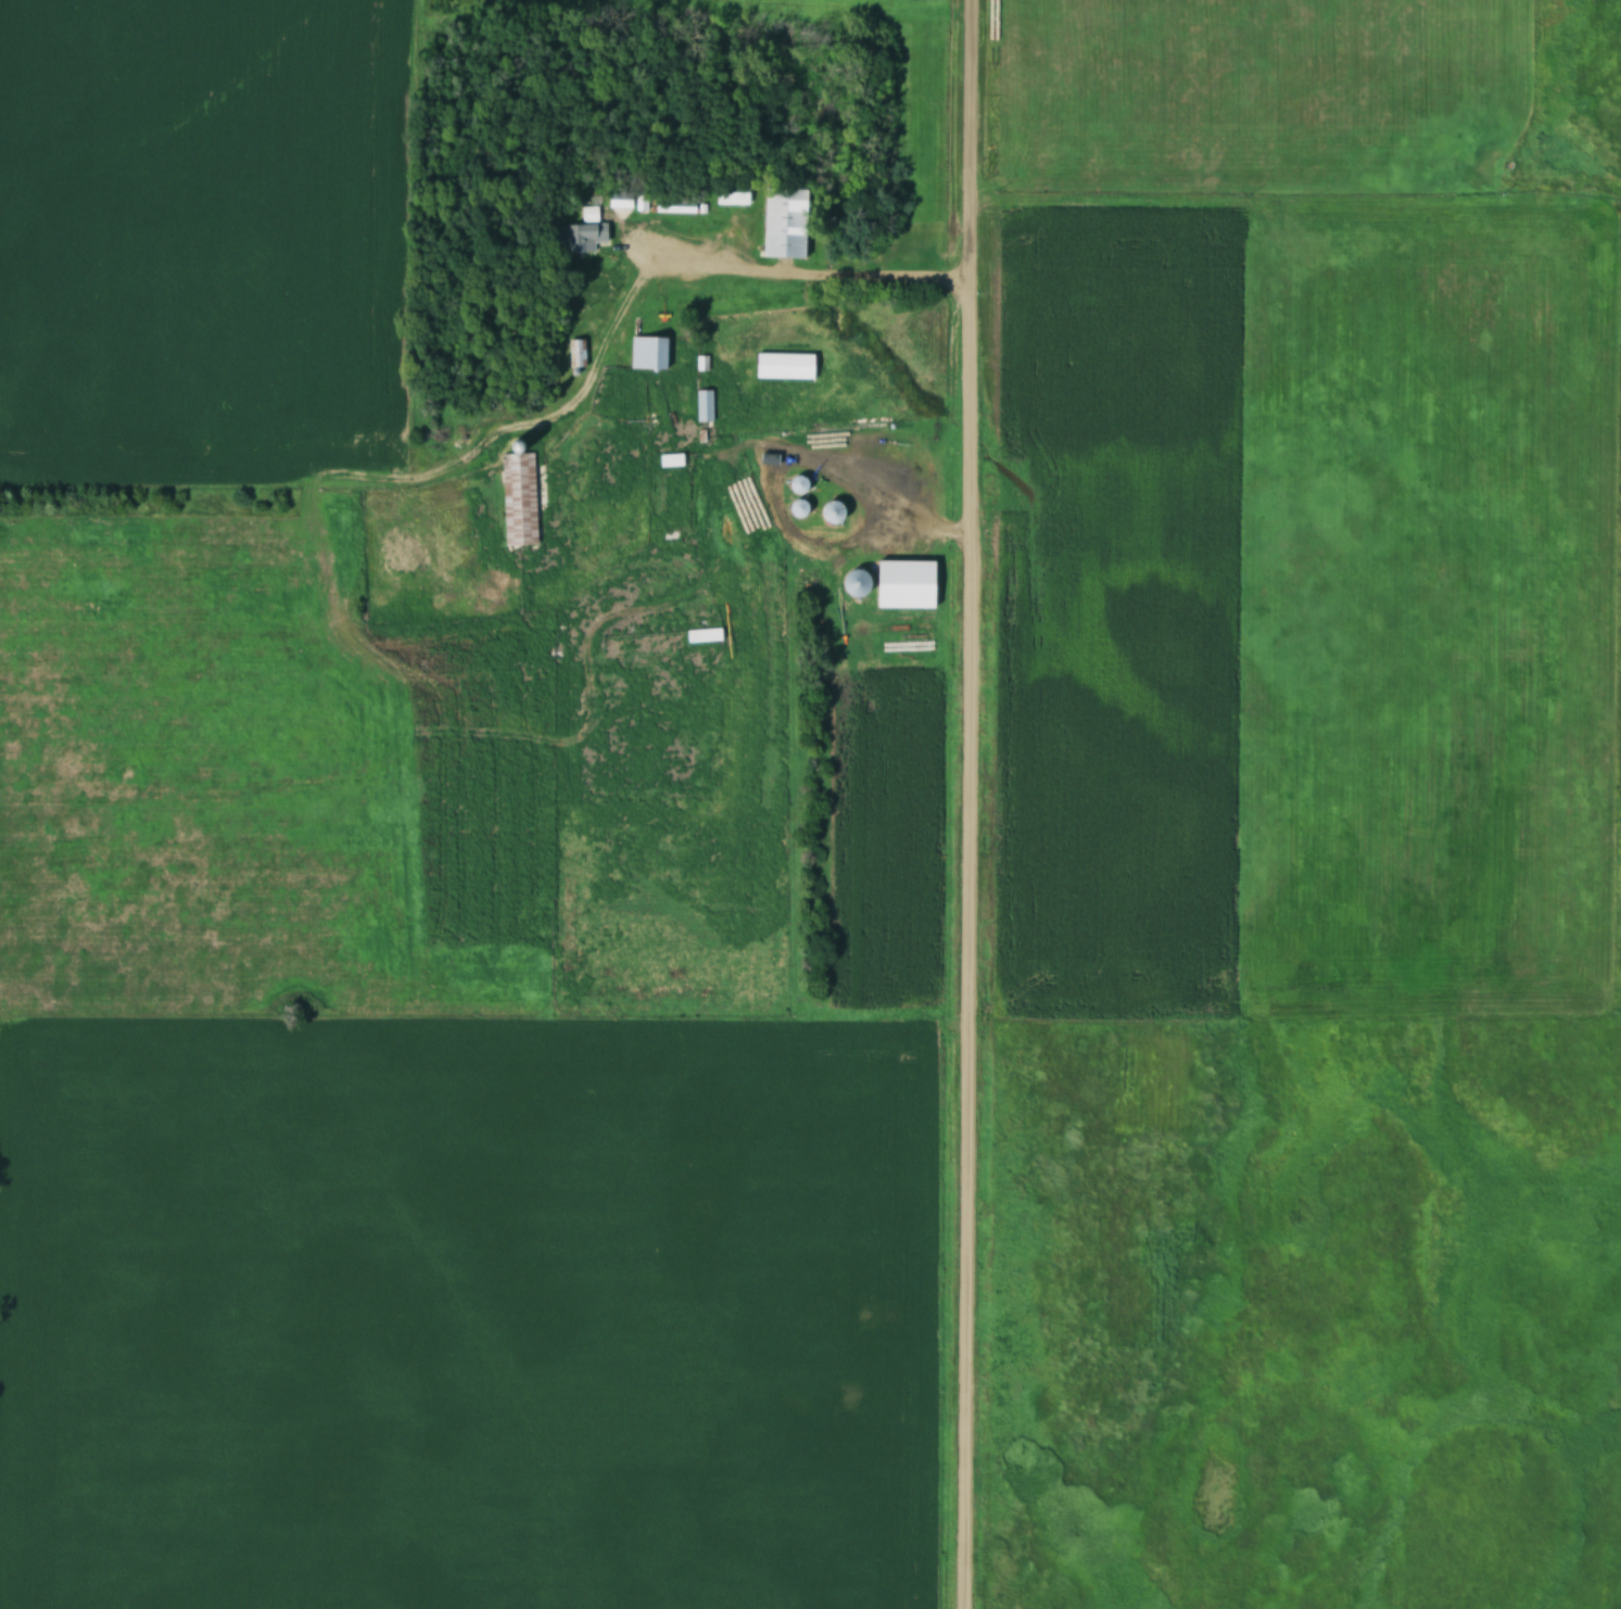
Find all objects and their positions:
building: (730, 193)
building: (619, 199)
building: (670, 205)
building: (783, 223)
building: (579, 233)
road: (805, 271)
building: (577, 352)
building: (648, 352)
building: (783, 365)
building: (705, 405)
building: (670, 459)
building: (797, 483)
building: (518, 498)
building: (830, 510)
building: (853, 582)
building: (904, 583)
building: (702, 635)
road: (967, 804)

